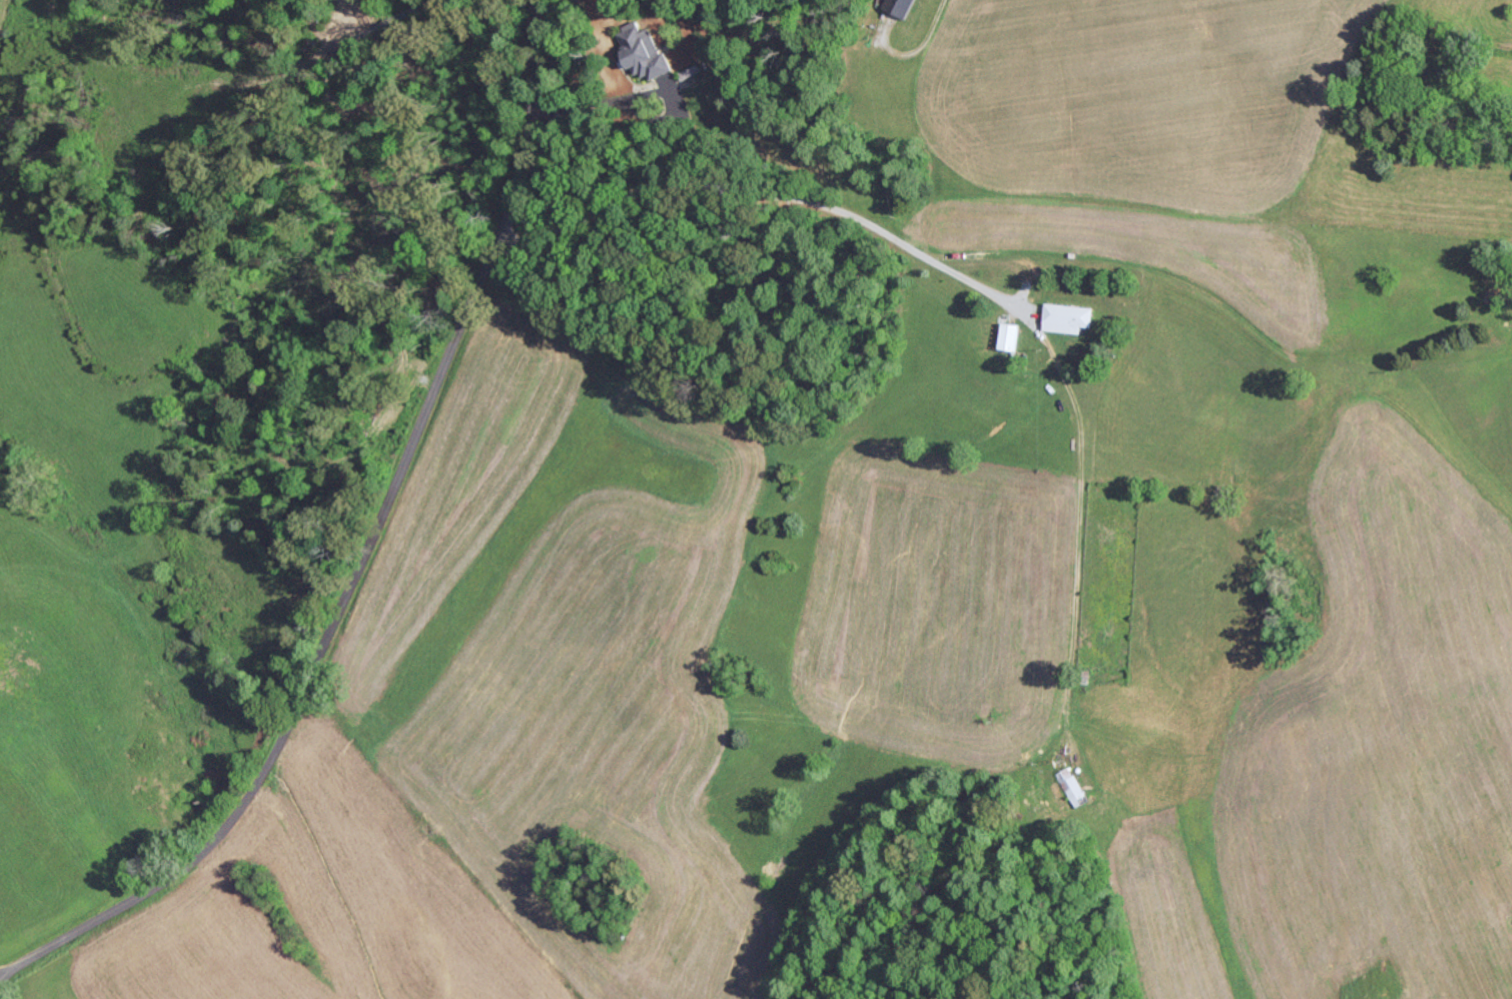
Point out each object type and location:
building: (903, 7)
building: (648, 50)
building: (1073, 318)
building: (1014, 337)
road: (365, 551)
road: (3, 972)

